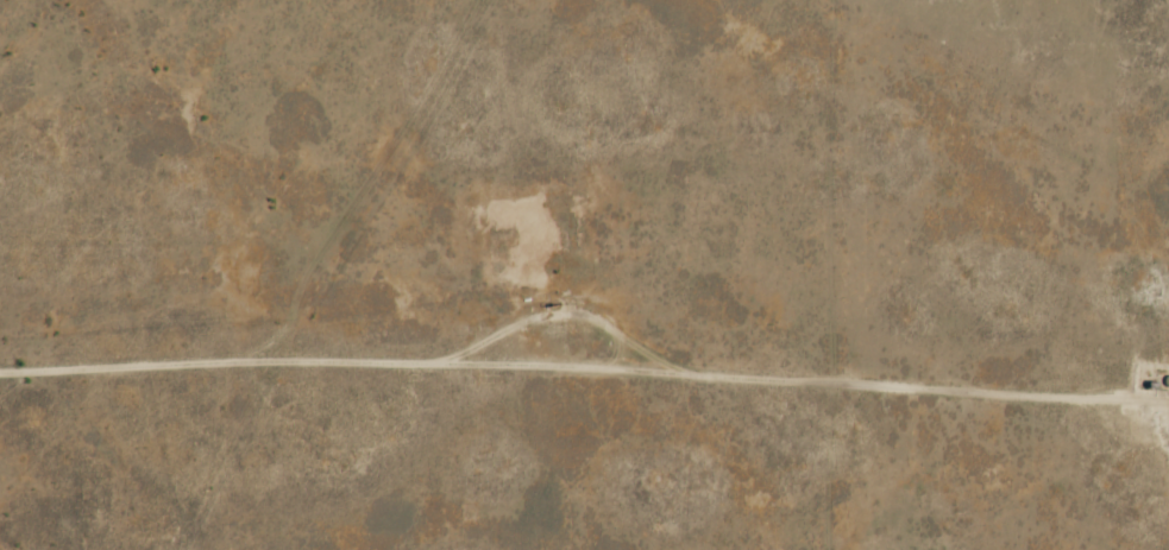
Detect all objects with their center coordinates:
road: (258, 276)
road: (145, 466)

